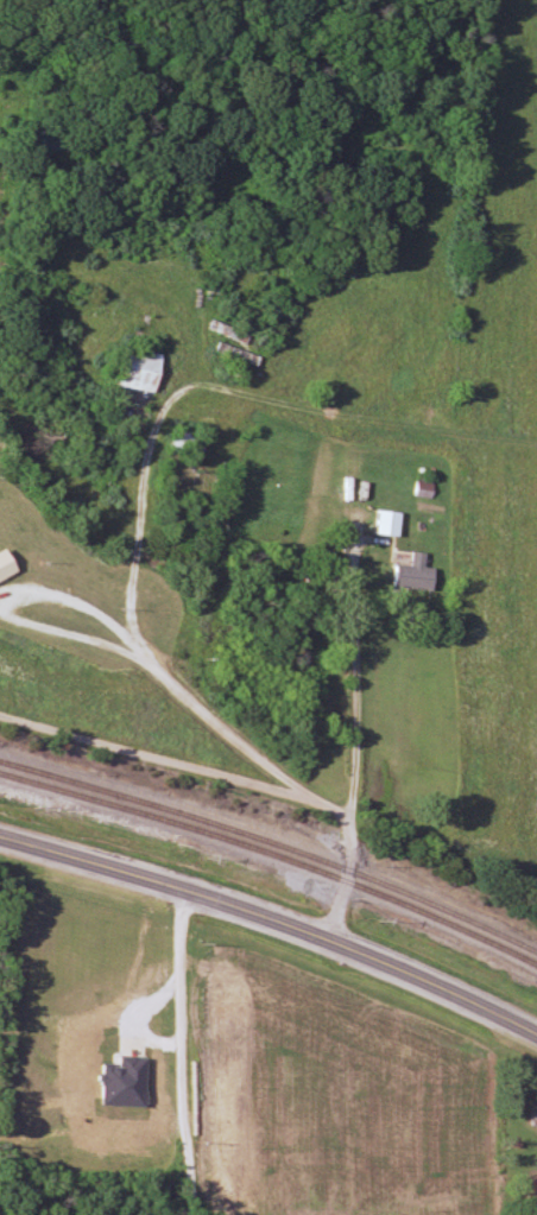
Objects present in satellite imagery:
building: (230, 331)
building: (141, 369)
building: (190, 443)
building: (390, 523)
building: (7, 565)
building: (416, 574)
road: (177, 686)
road: (350, 689)
road: (232, 783)
railway: (273, 843)
railway: (273, 856)
road: (277, 923)
road: (179, 1055)

